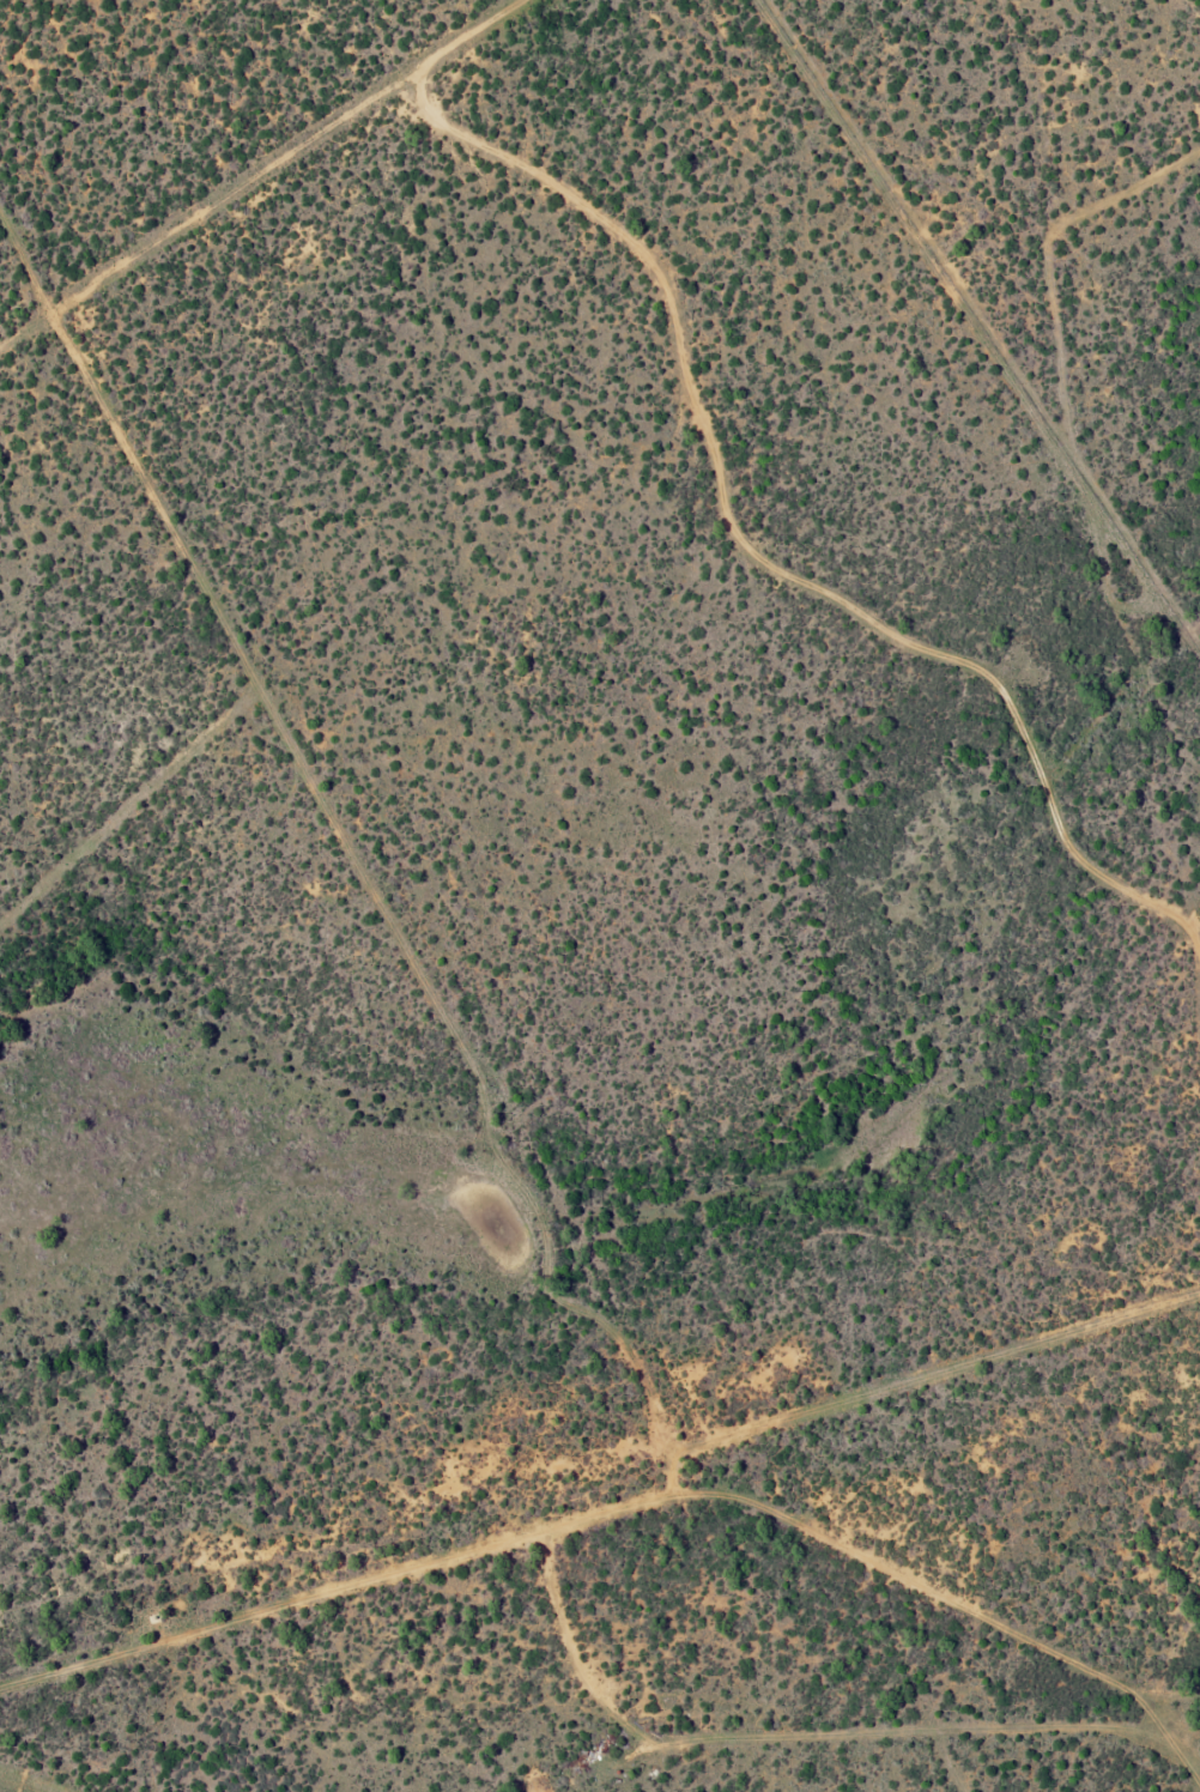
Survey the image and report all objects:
road: (1073, 407)

